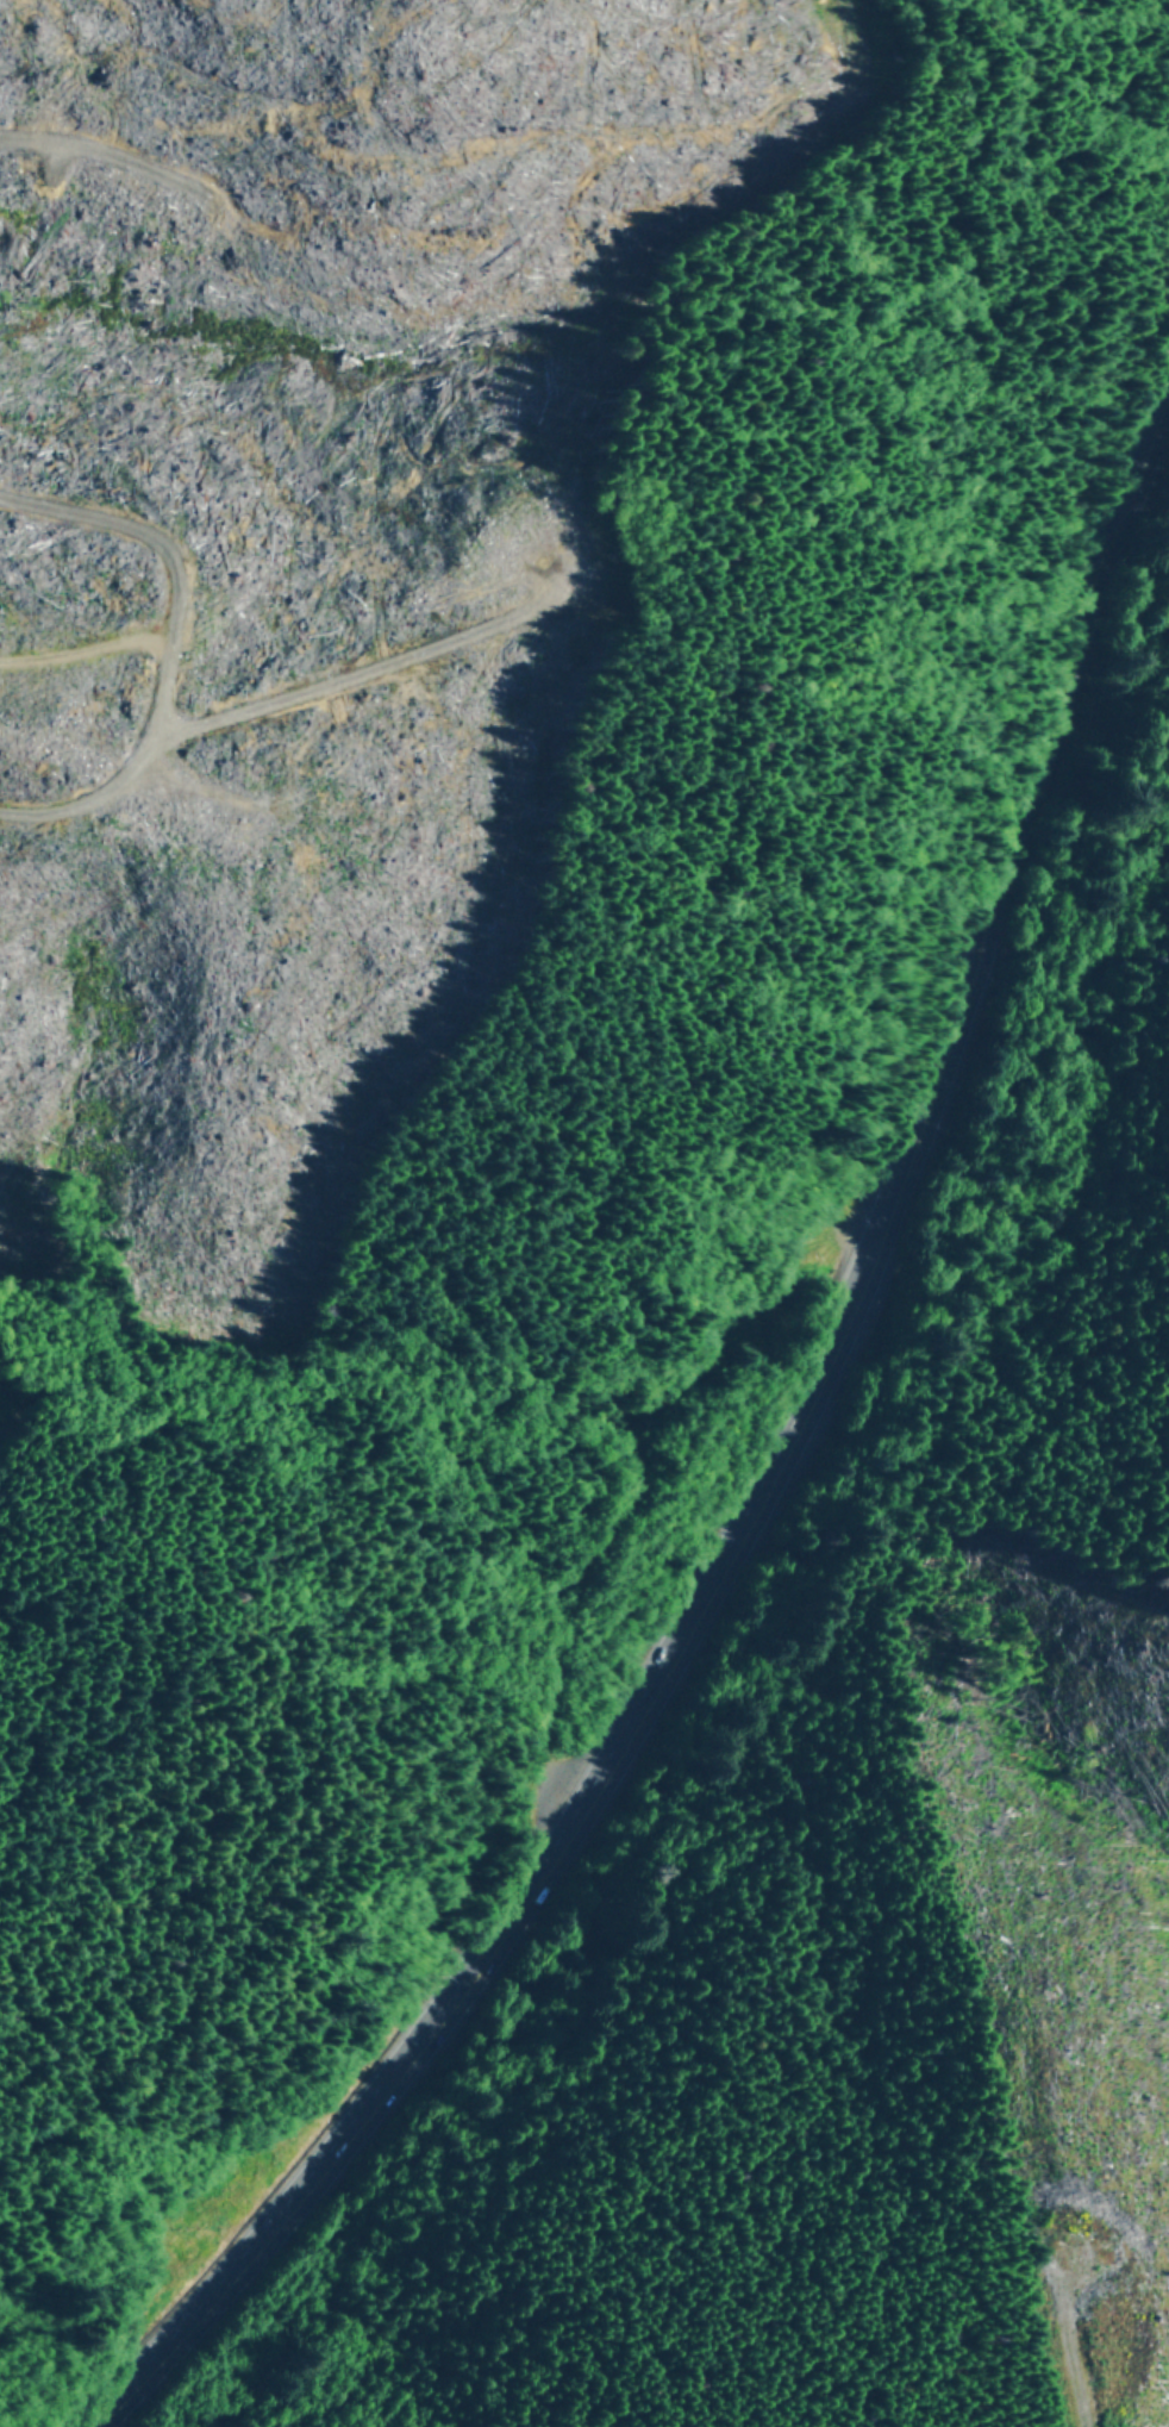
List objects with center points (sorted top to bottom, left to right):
road: (854, 25)
road: (173, 638)
road: (227, 774)
road: (771, 1499)

